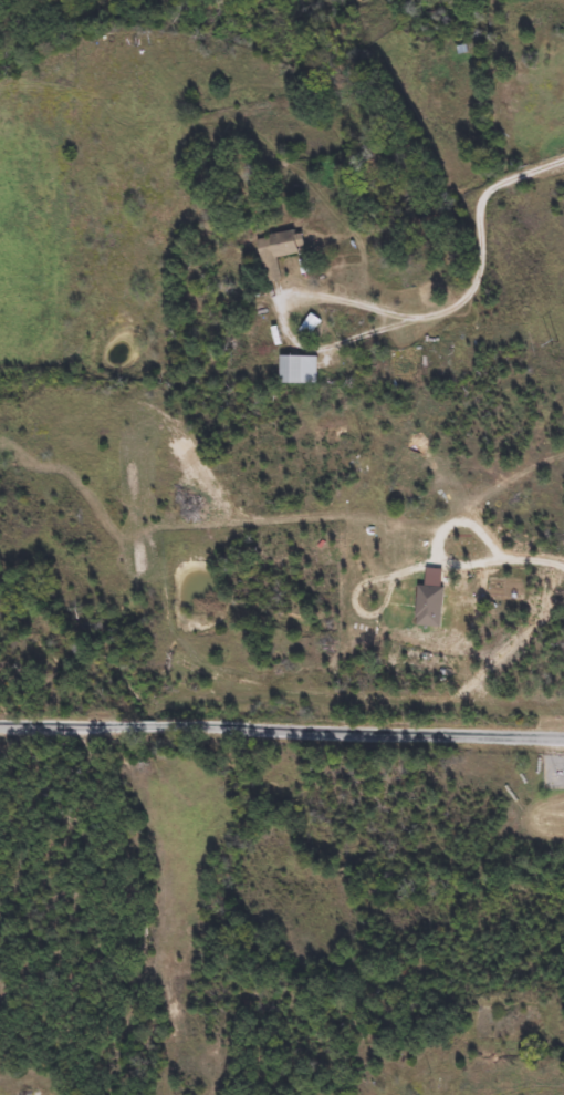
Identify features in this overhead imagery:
building: (279, 250)
building: (310, 323)
road: (303, 328)
building: (299, 369)
road: (282, 727)

